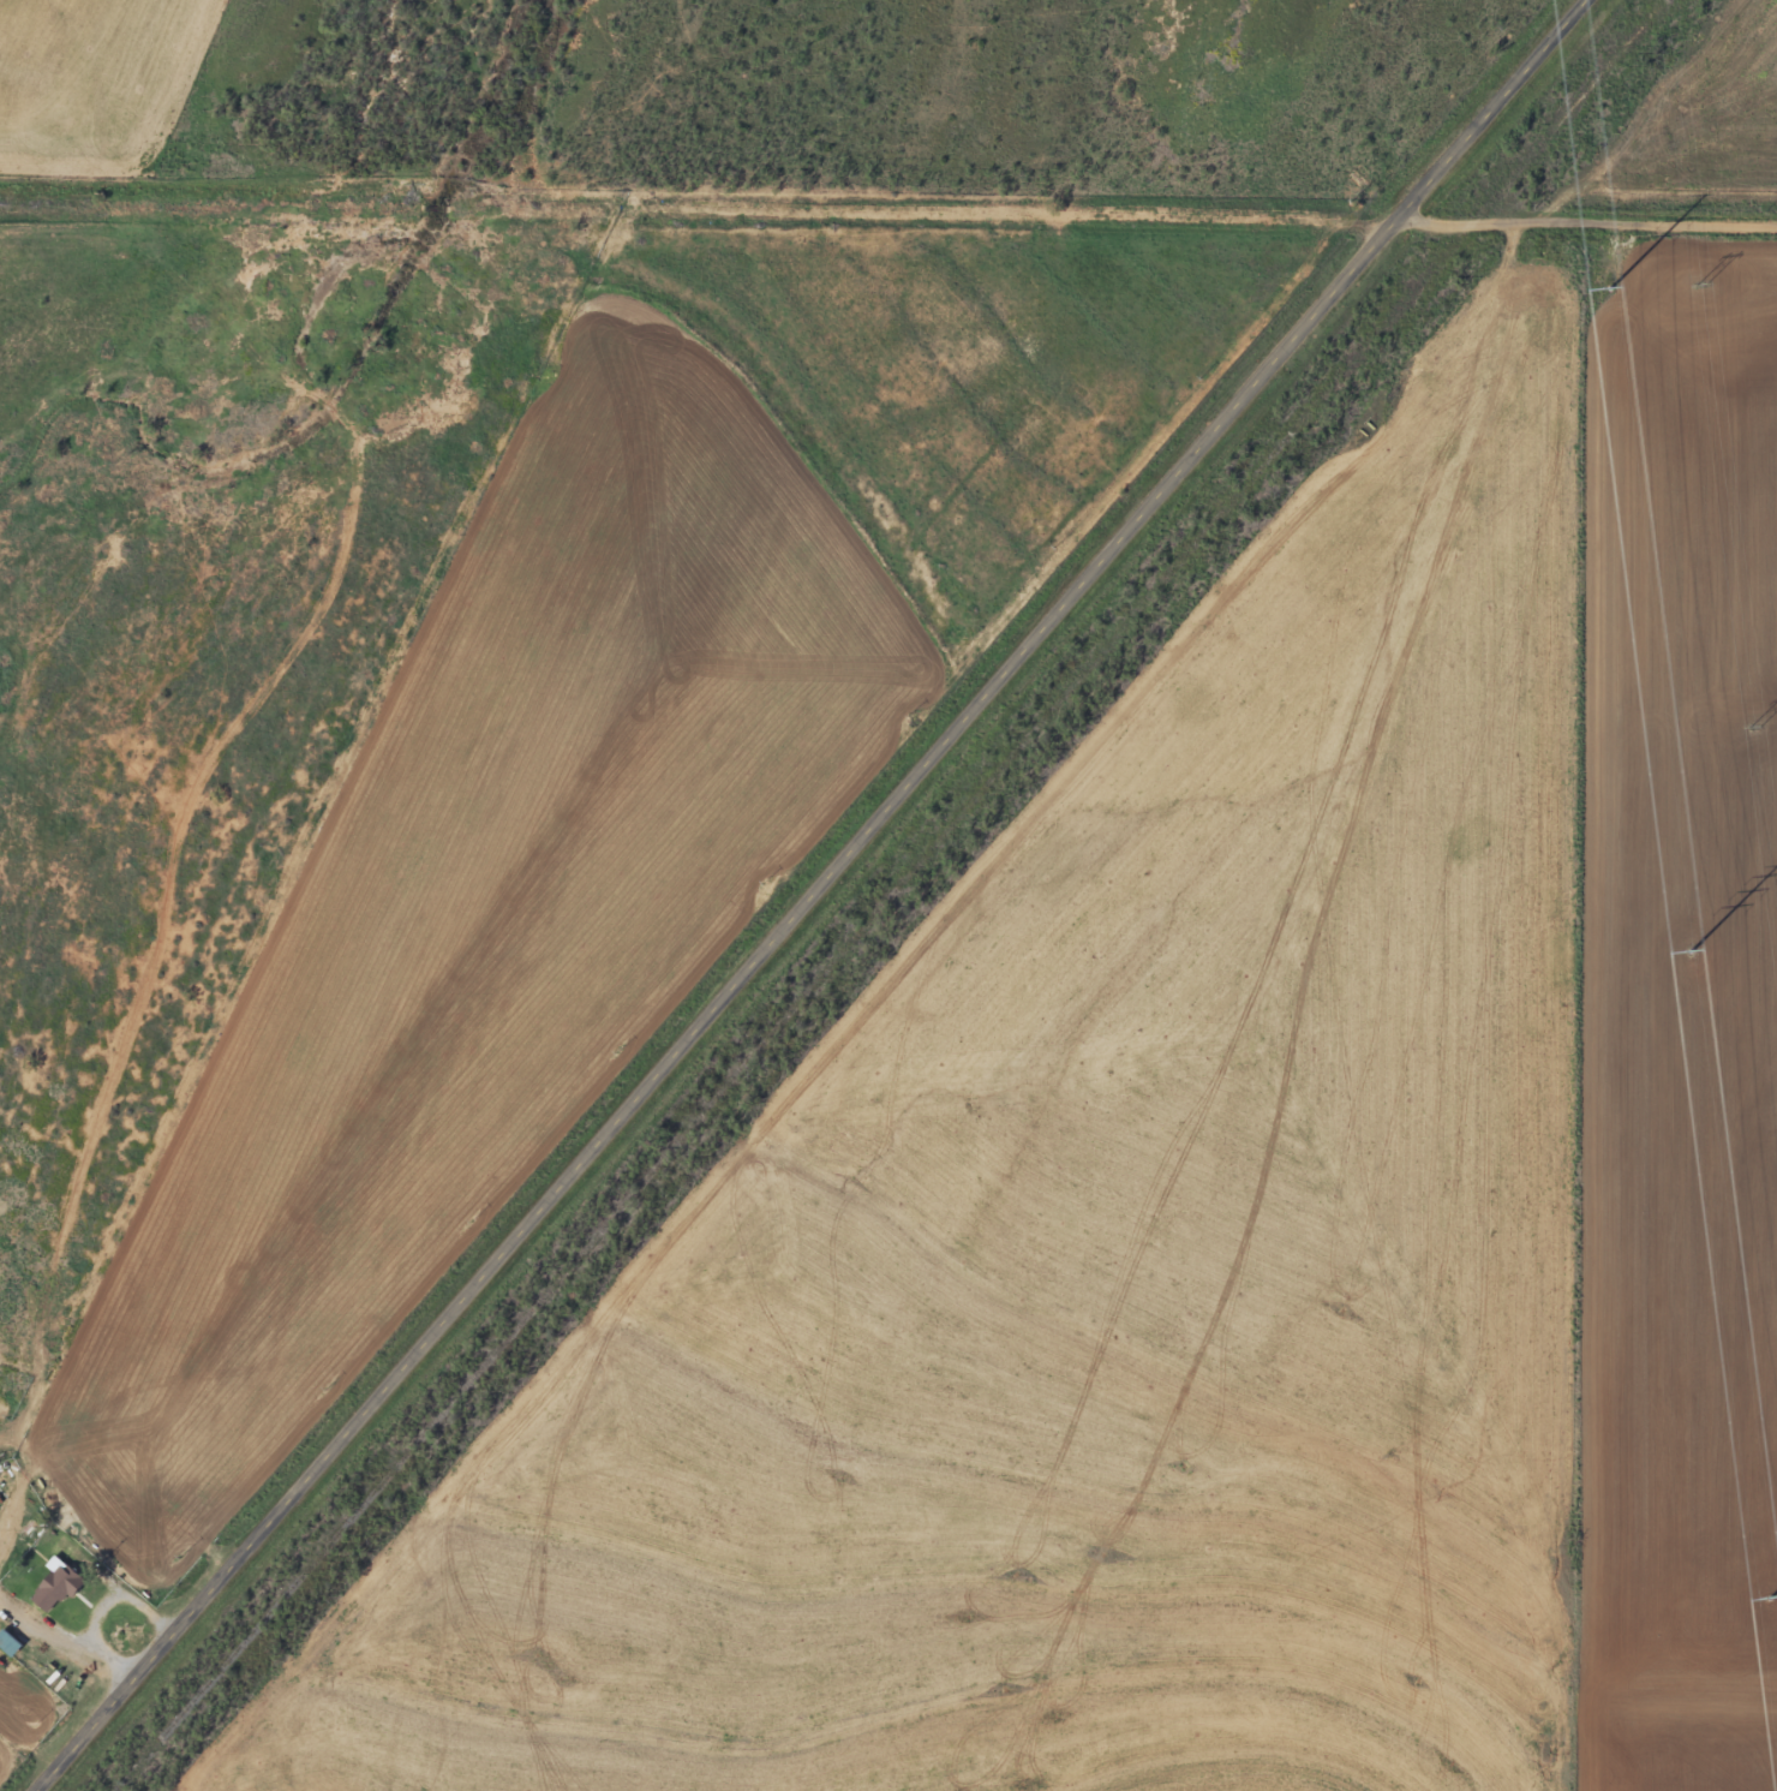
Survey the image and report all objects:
road: (1555, 216)
road: (1735, 219)
power tower: (1701, 282)
power tower: (1610, 288)
power tower: (1754, 726)
road: (827, 895)
railway: (886, 895)
power tower: (1692, 951)
building: (60, 1592)
power tower: (1771, 1598)

